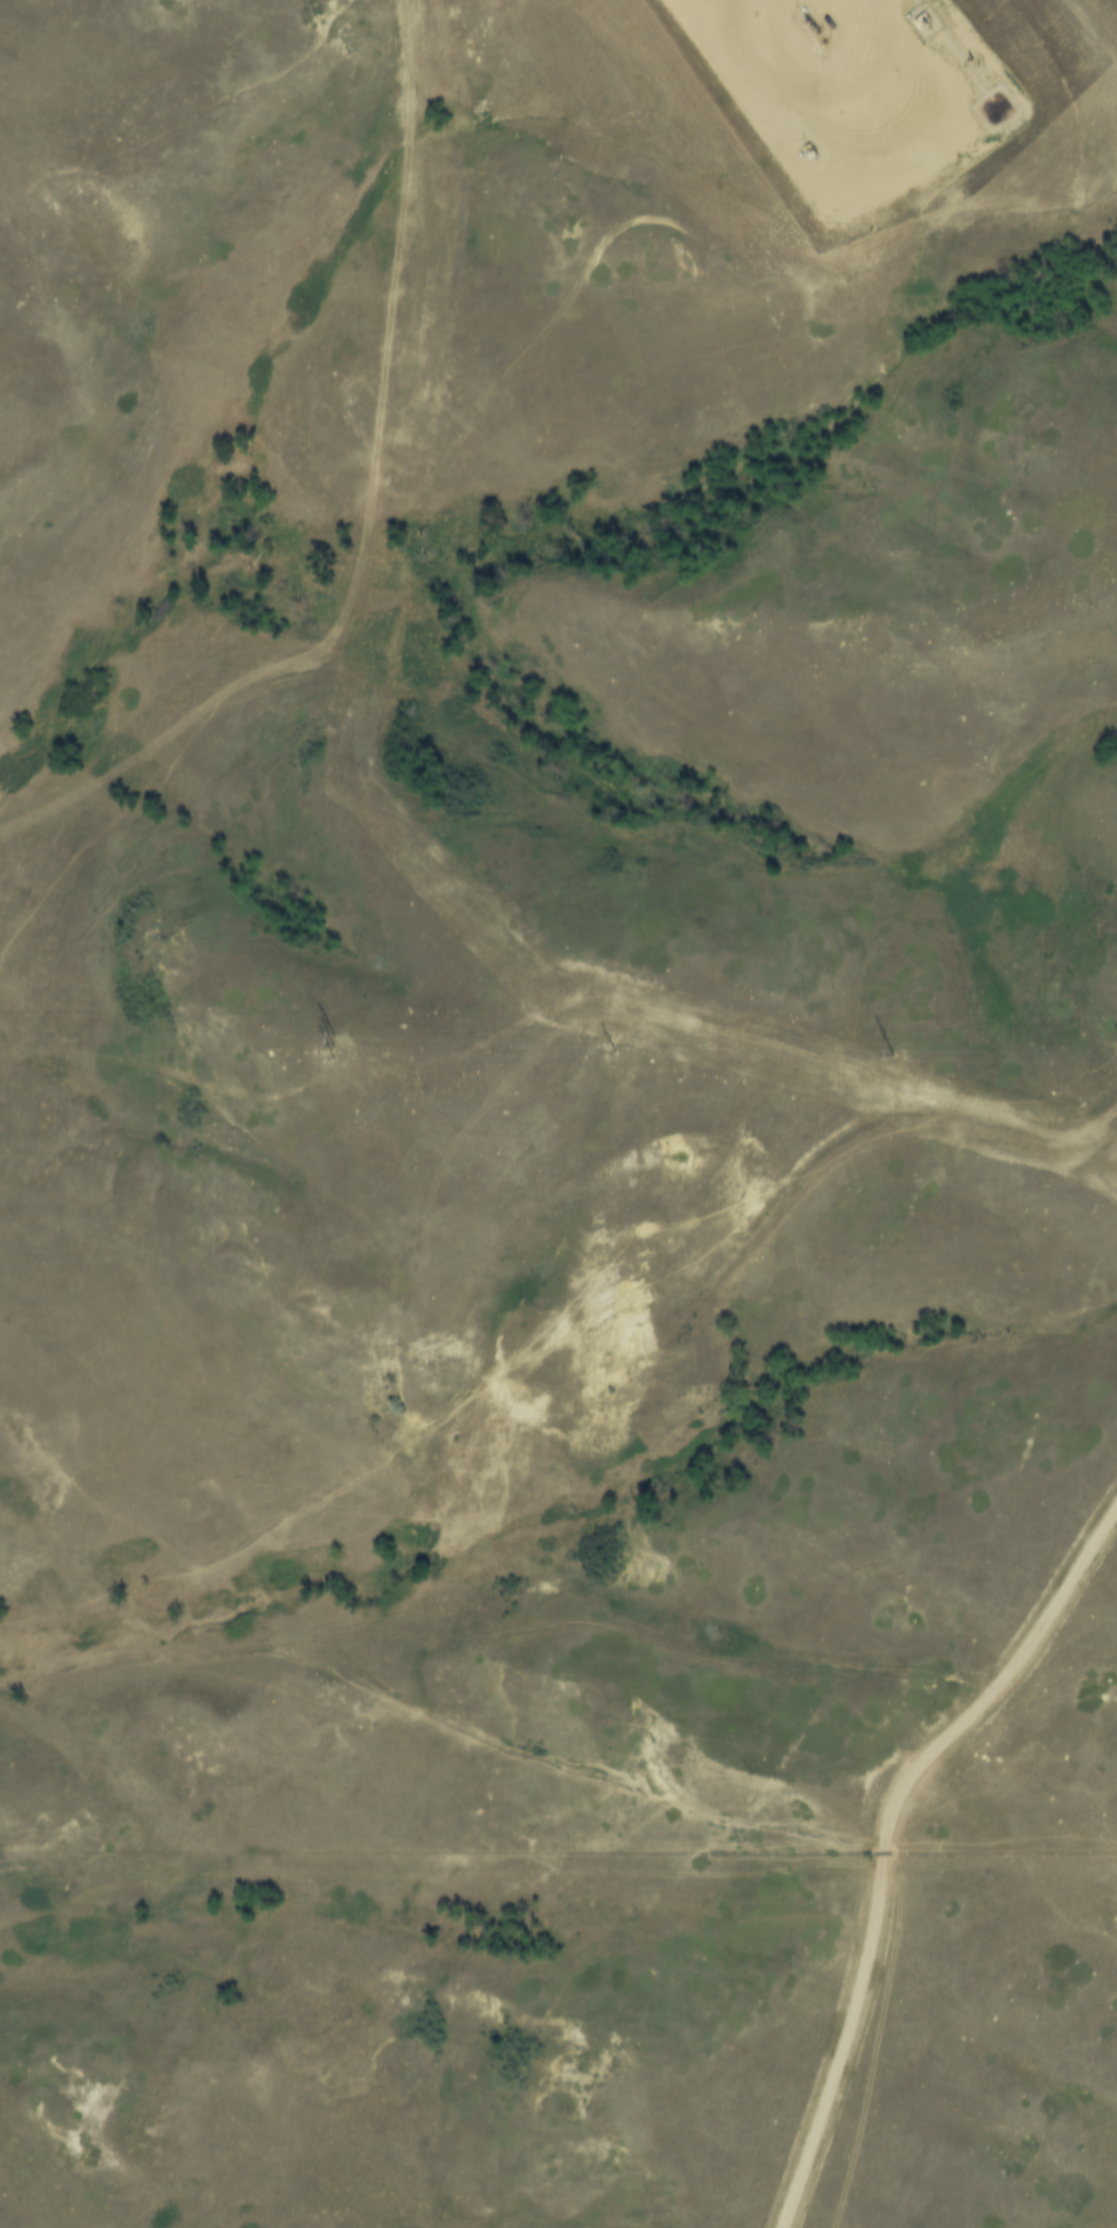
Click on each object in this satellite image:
power tower: (345, 1046)
road: (884, 1838)

